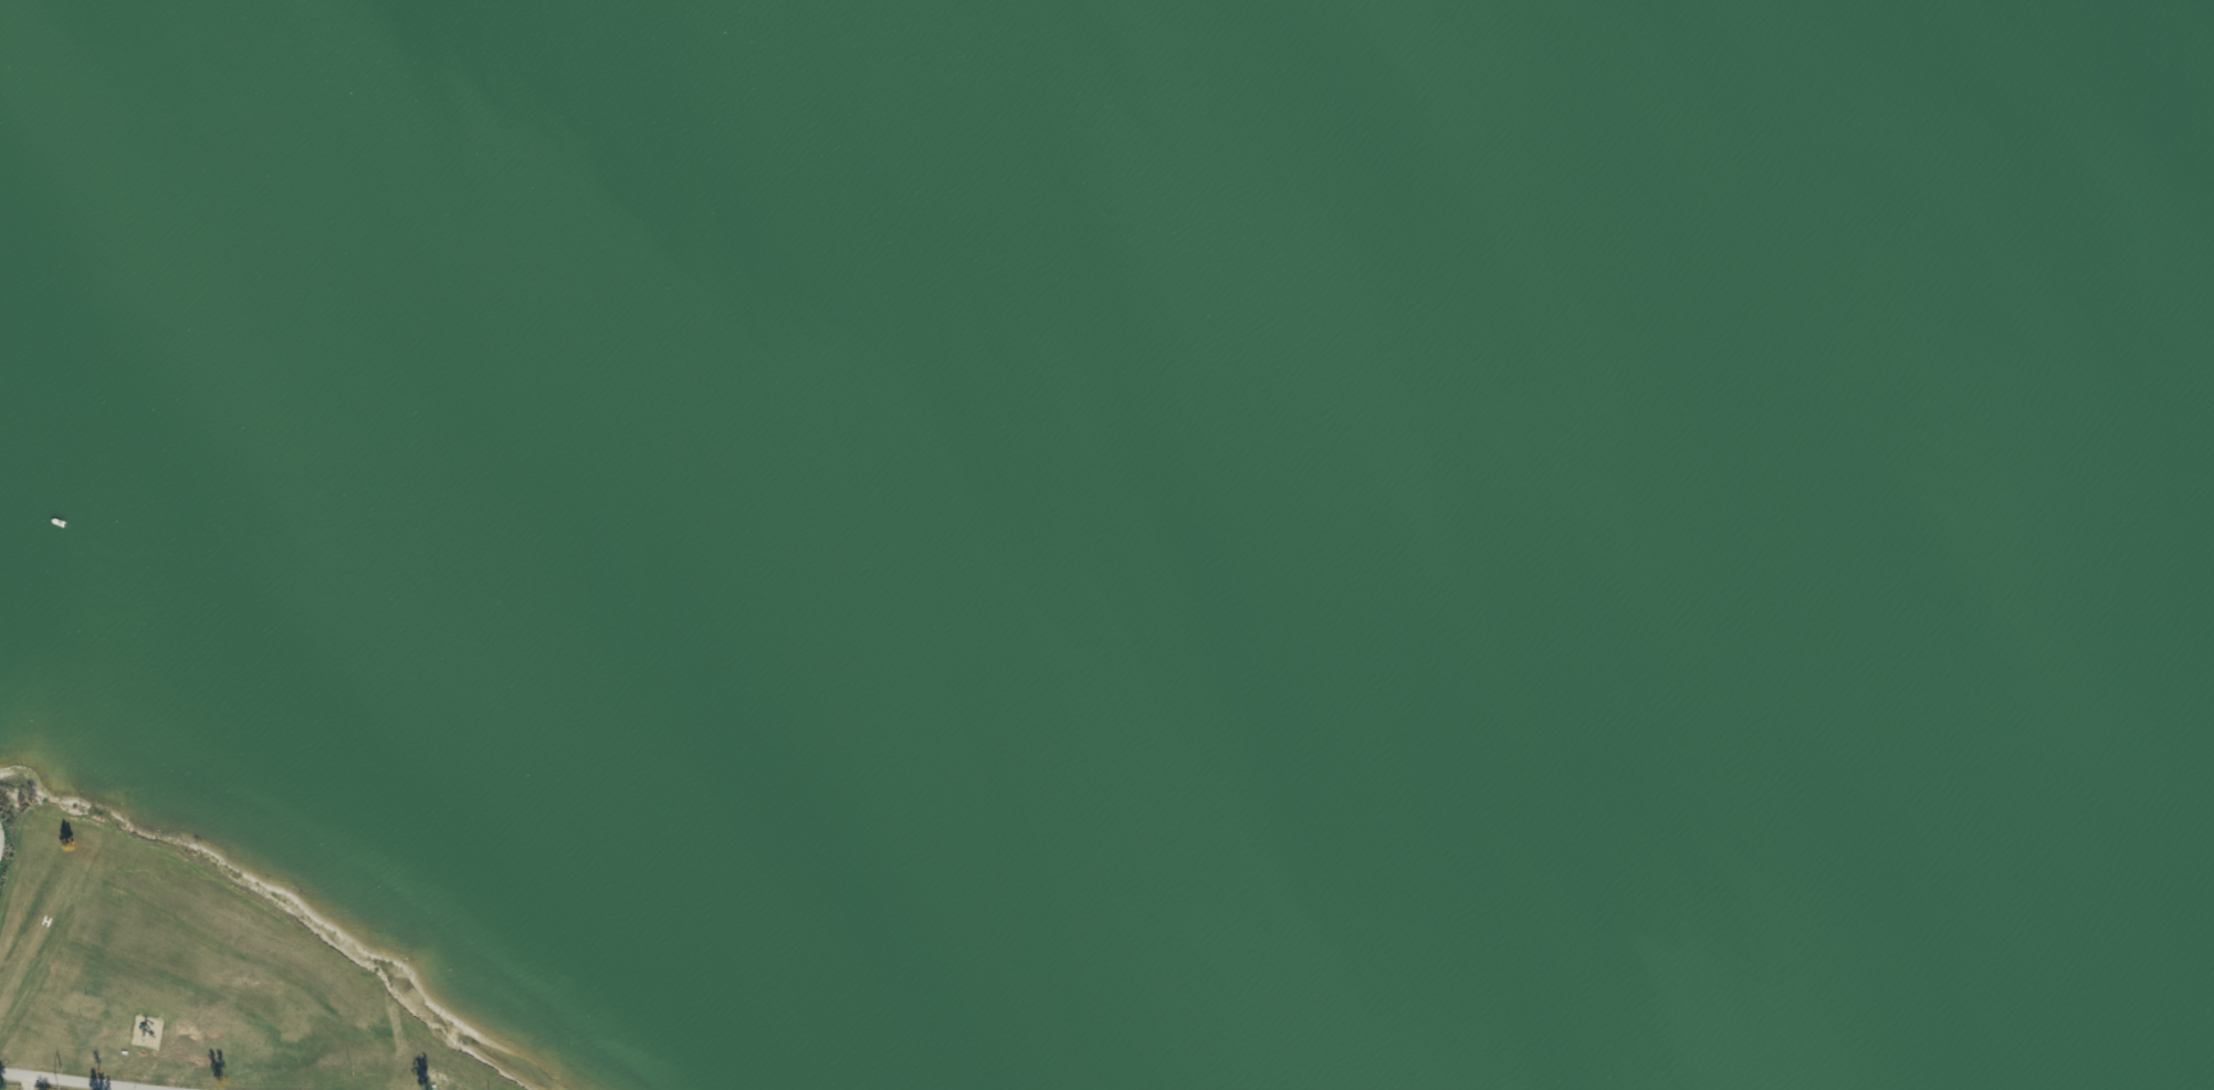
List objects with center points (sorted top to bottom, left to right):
river: (1610, 410)
park: (189, 973)

